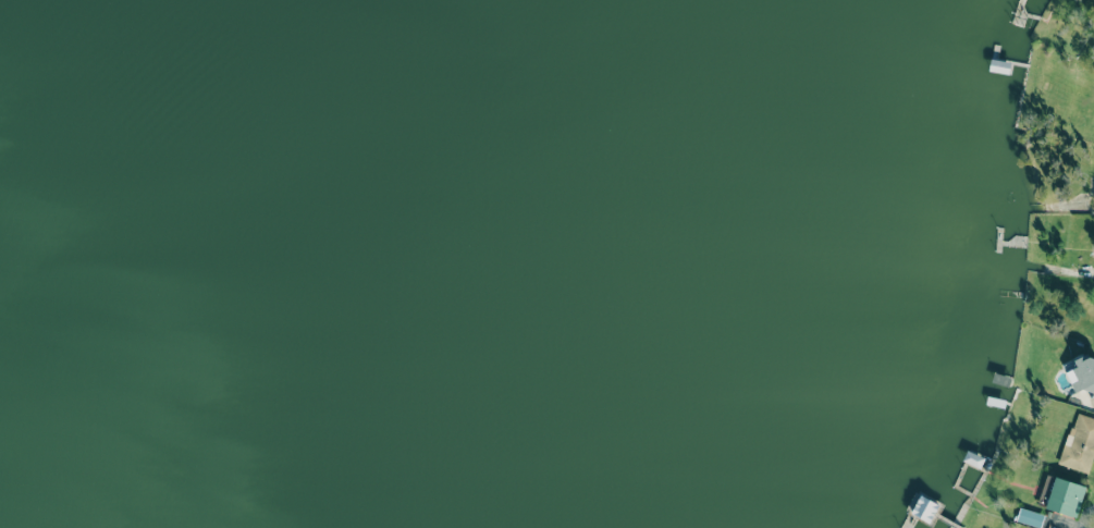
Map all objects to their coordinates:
building: (1083, 373)
building: (1079, 443)
building: (1065, 496)

